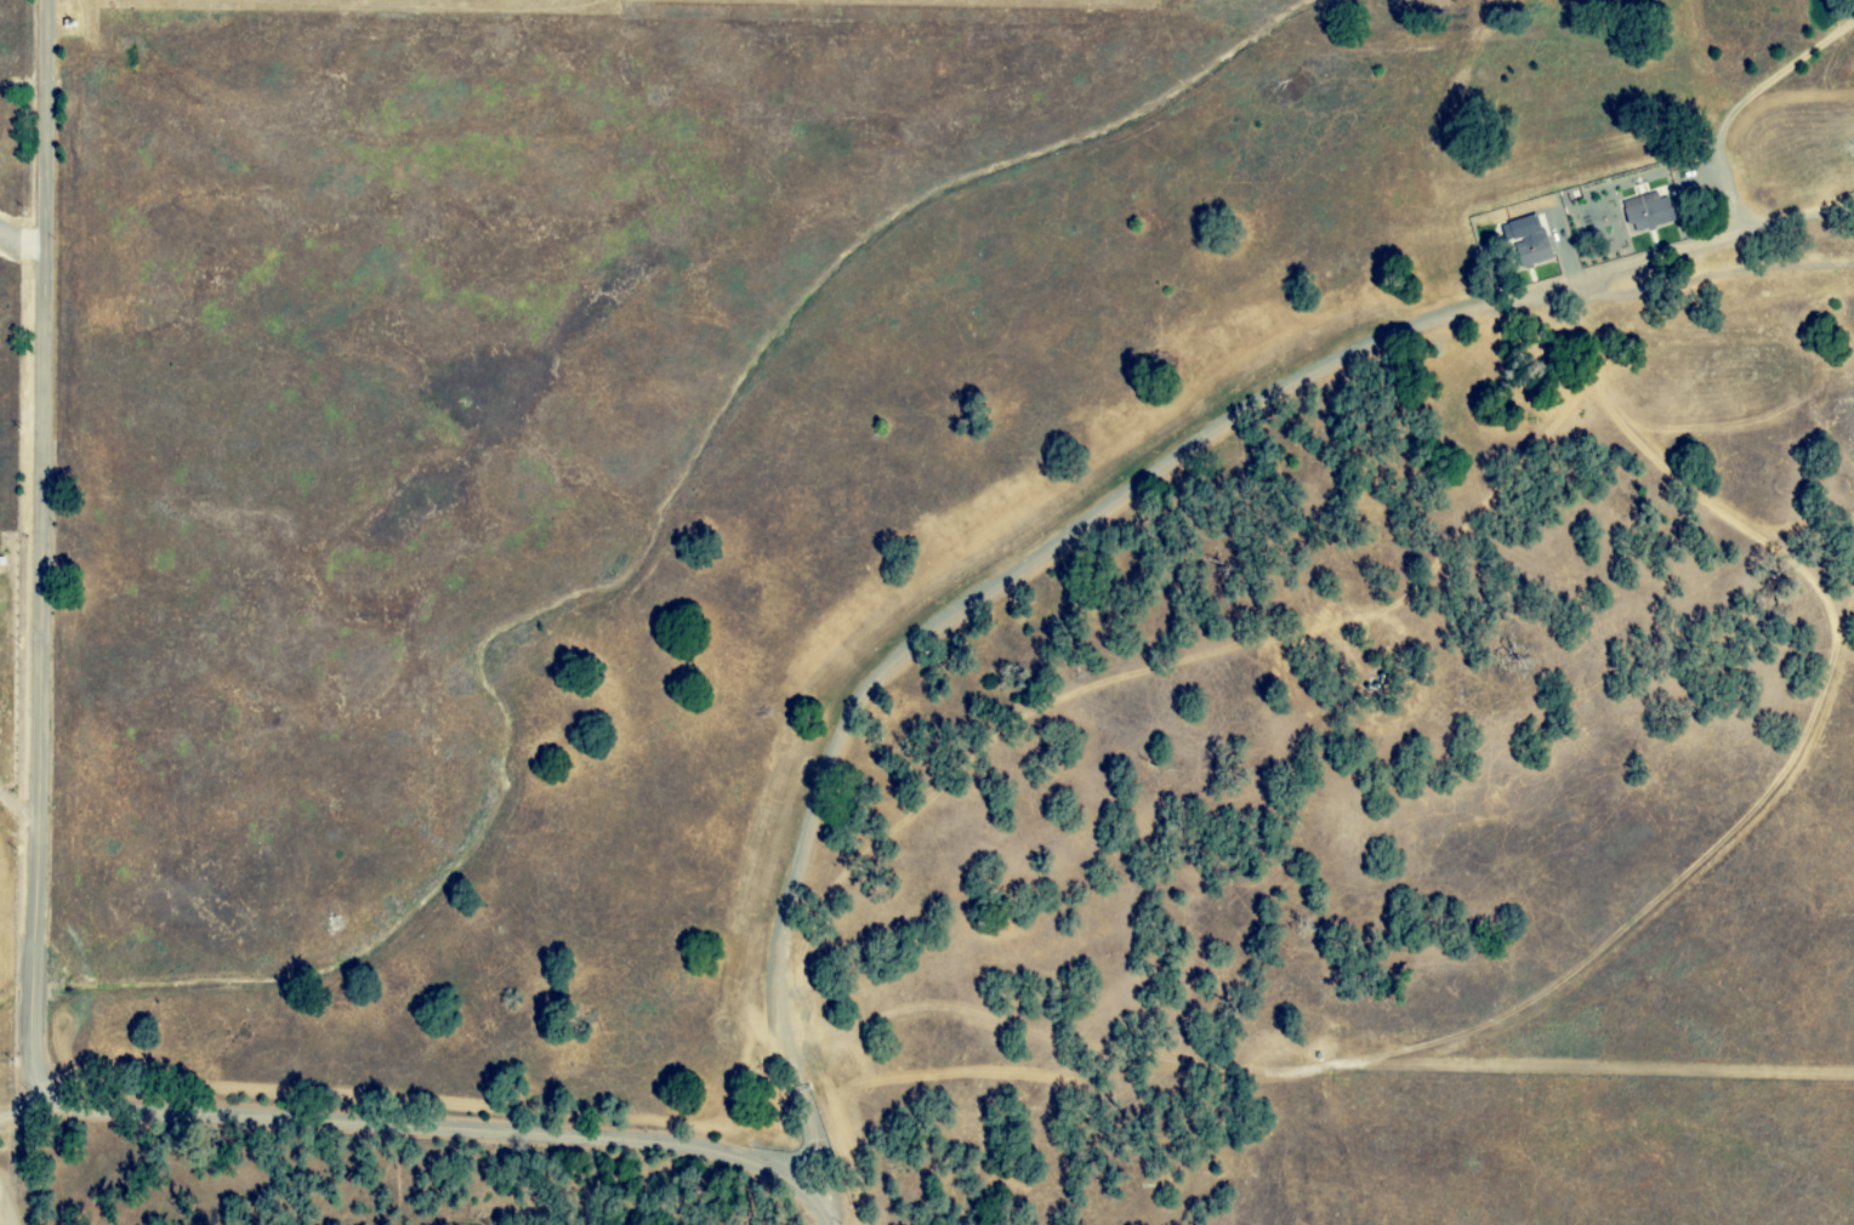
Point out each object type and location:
building: (1642, 211)
building: (1523, 241)
road: (1098, 520)
road: (21, 804)
road: (39, 951)
road: (21, 1084)
road: (4, 1197)
road: (10, 1202)

